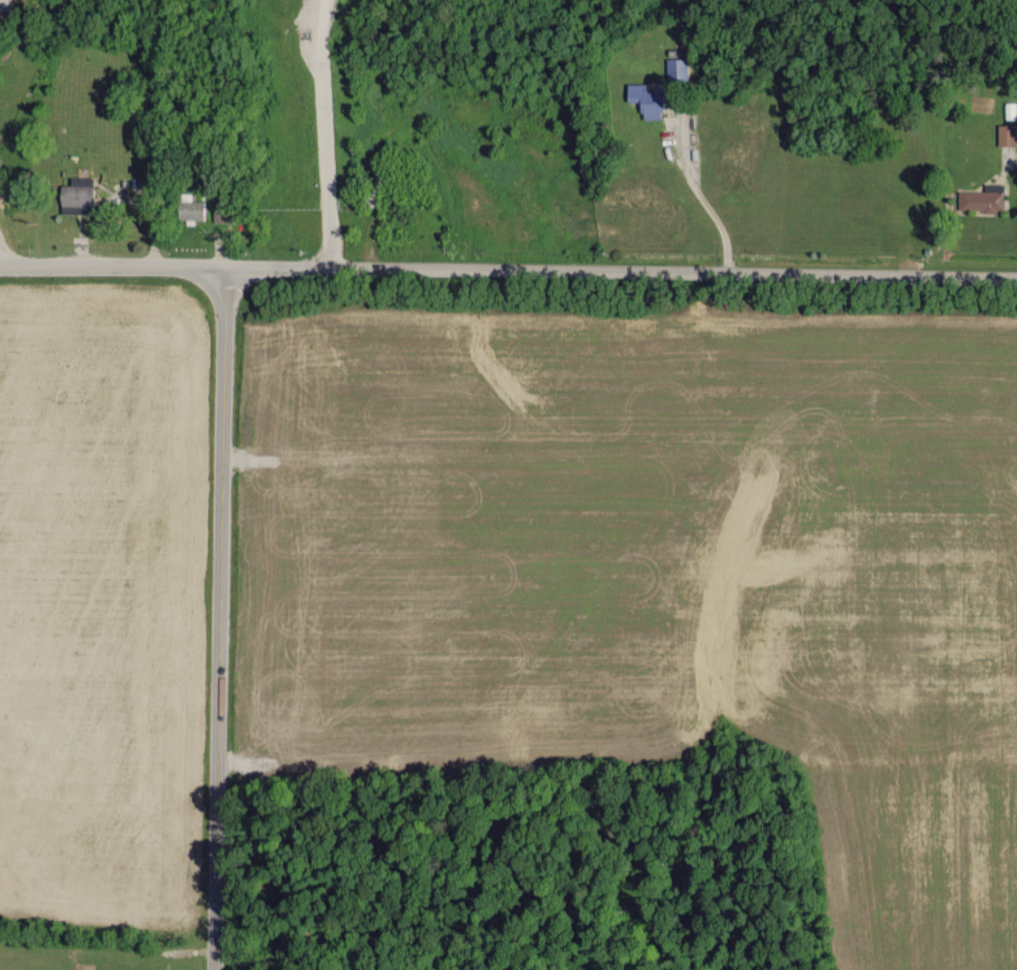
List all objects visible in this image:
building: (679, 68)
building: (644, 99)
building: (1010, 110)
building: (1005, 134)
building: (75, 195)
road: (702, 196)
building: (982, 198)
building: (188, 209)
road: (113, 269)
road: (622, 271)
road: (221, 619)

